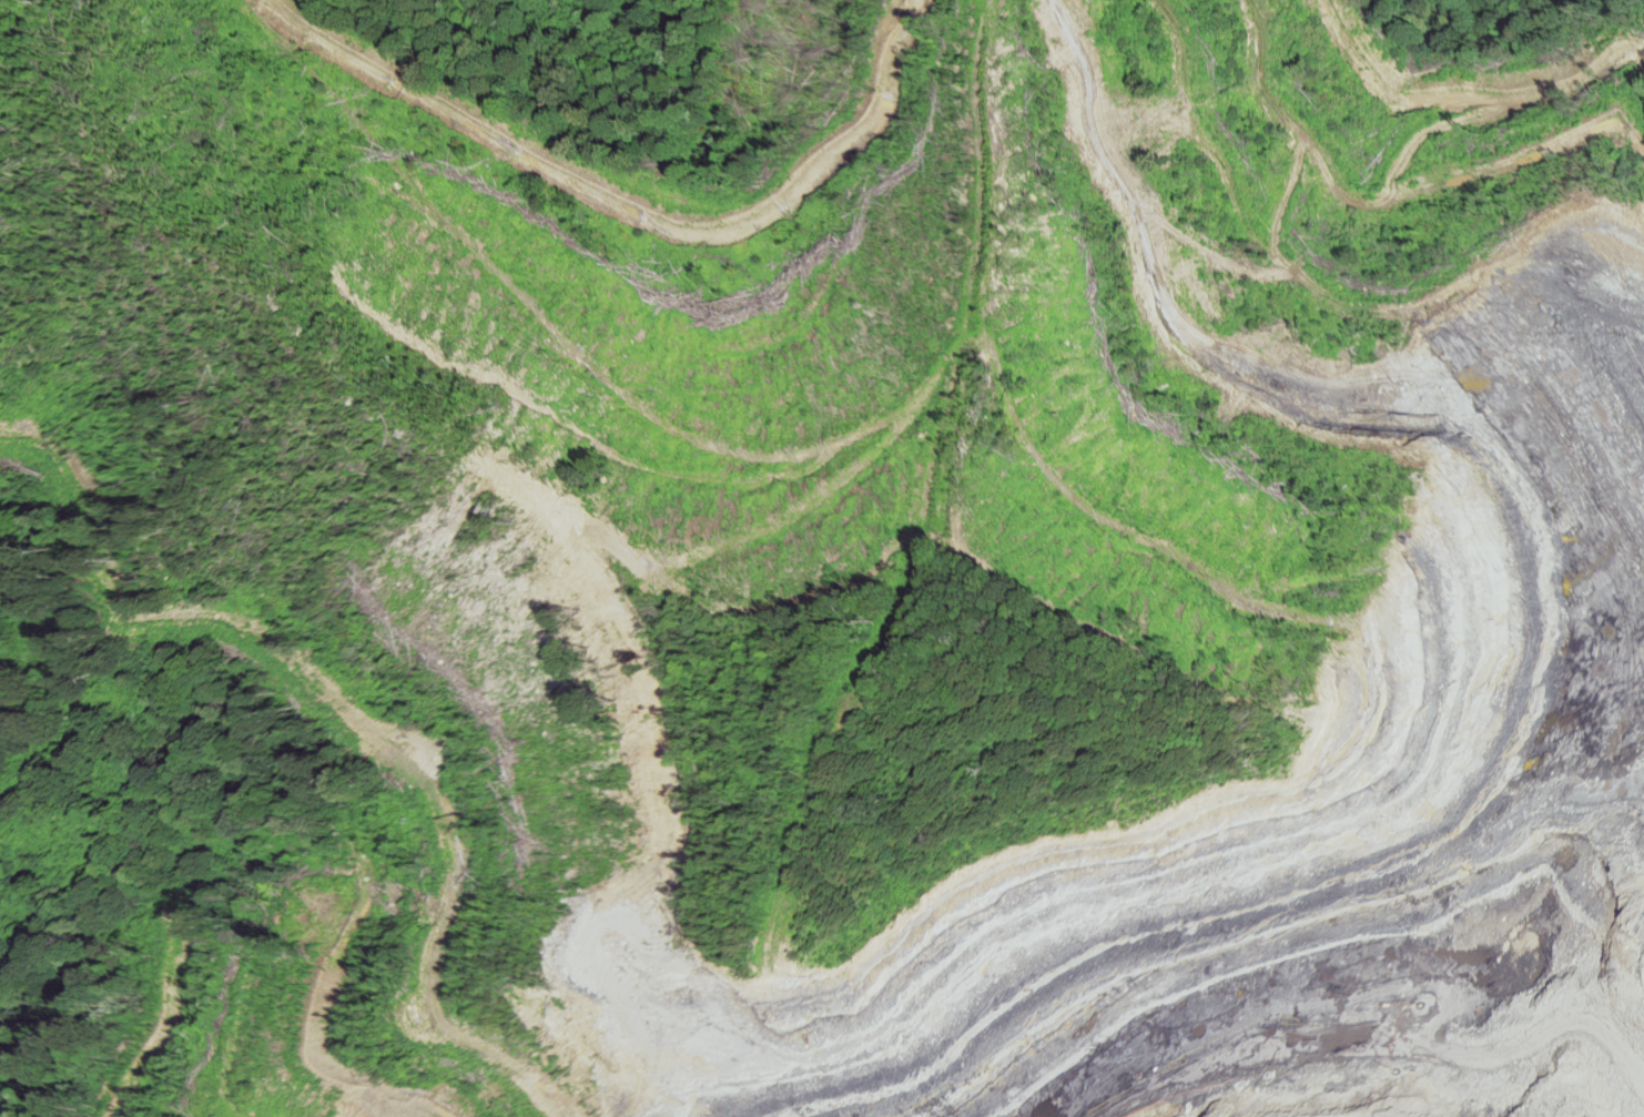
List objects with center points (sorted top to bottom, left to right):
quarry: (879, 541)

